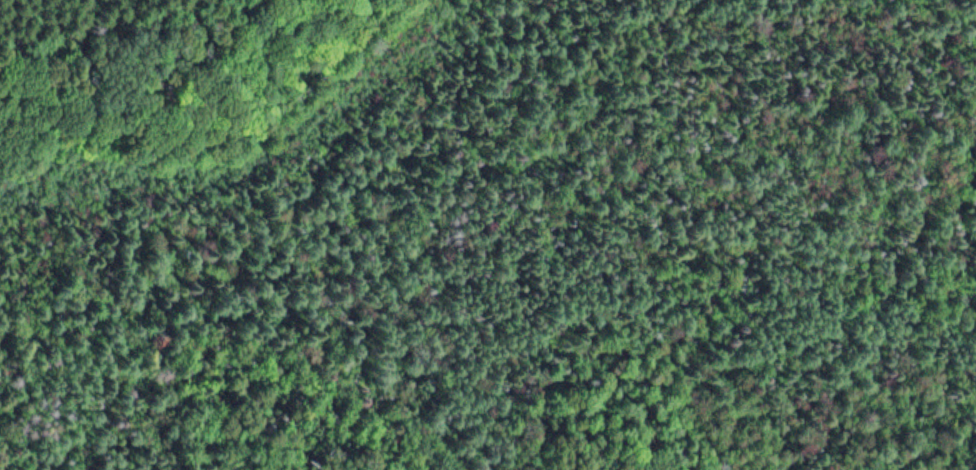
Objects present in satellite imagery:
road: (19, 16)
road: (29, 70)
road: (163, 128)

